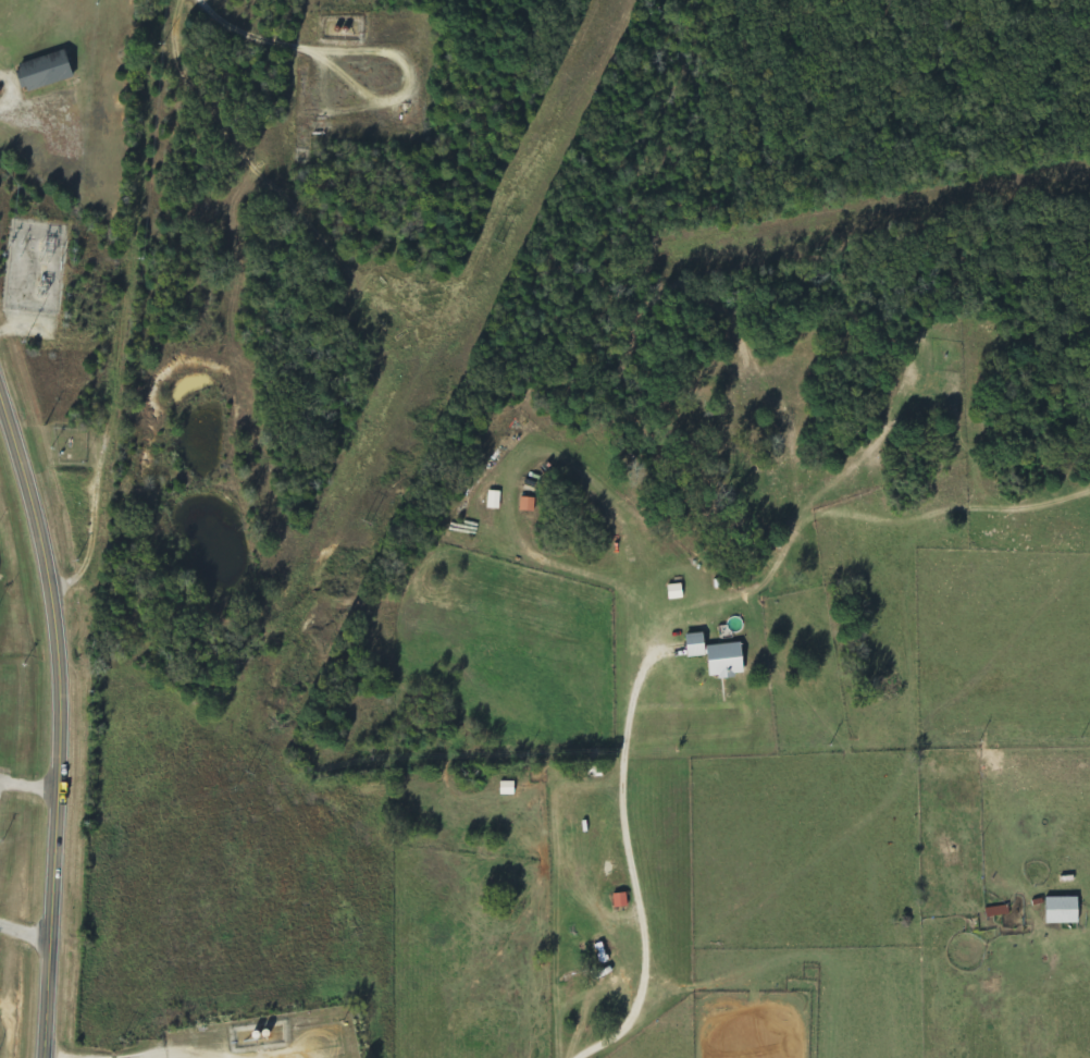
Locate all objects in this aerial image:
building: (45, 72)
power tower: (495, 241)
building: (494, 501)
building: (528, 505)
power tower: (363, 520)
building: (676, 592)
building: (695, 645)
building: (724, 661)
road: (59, 726)
power tower: (245, 774)
building: (507, 789)
building: (620, 901)
road: (510, 906)
building: (998, 911)
building: (1062, 911)
road: (24, 926)
power tower: (120, 1043)

